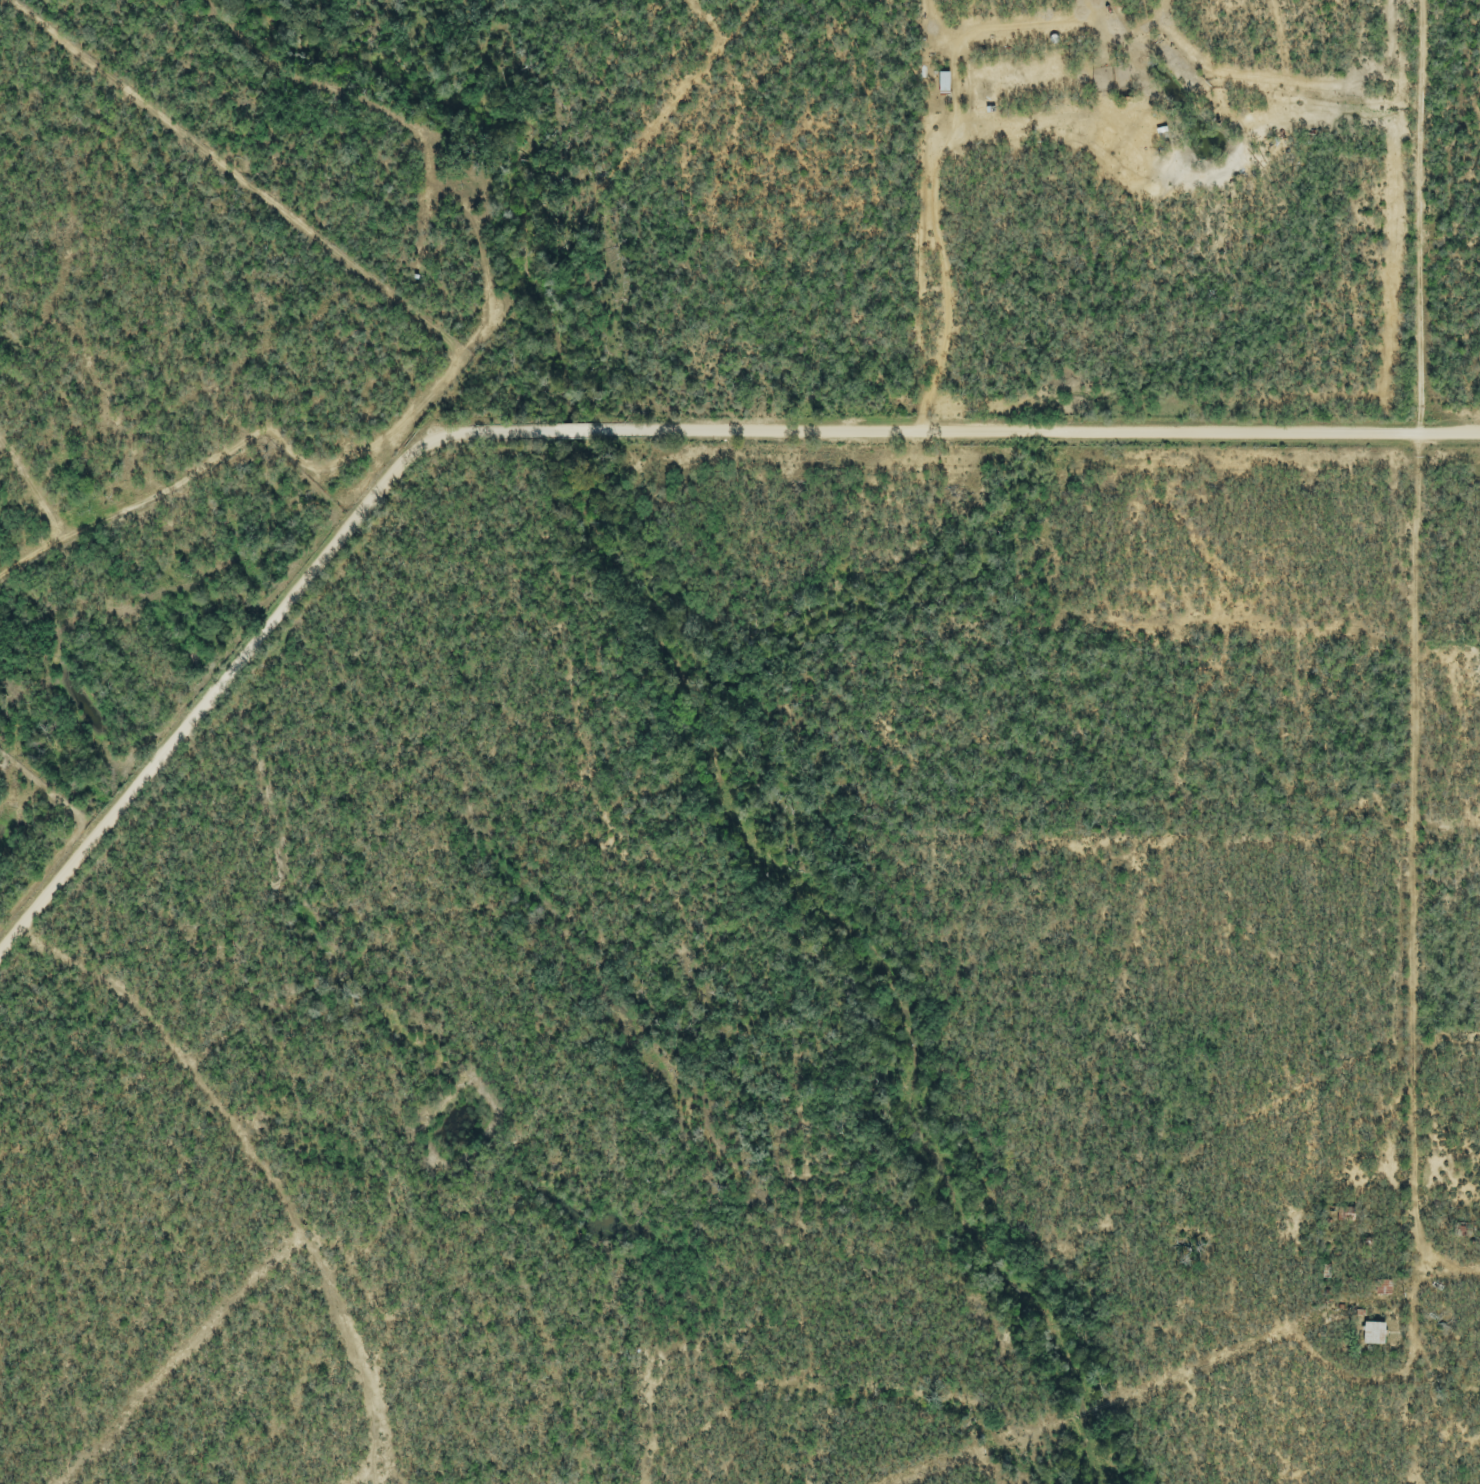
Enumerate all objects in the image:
building: (942, 85)
road: (1420, 219)
road: (920, 273)
road: (620, 428)
building: (1372, 1335)

